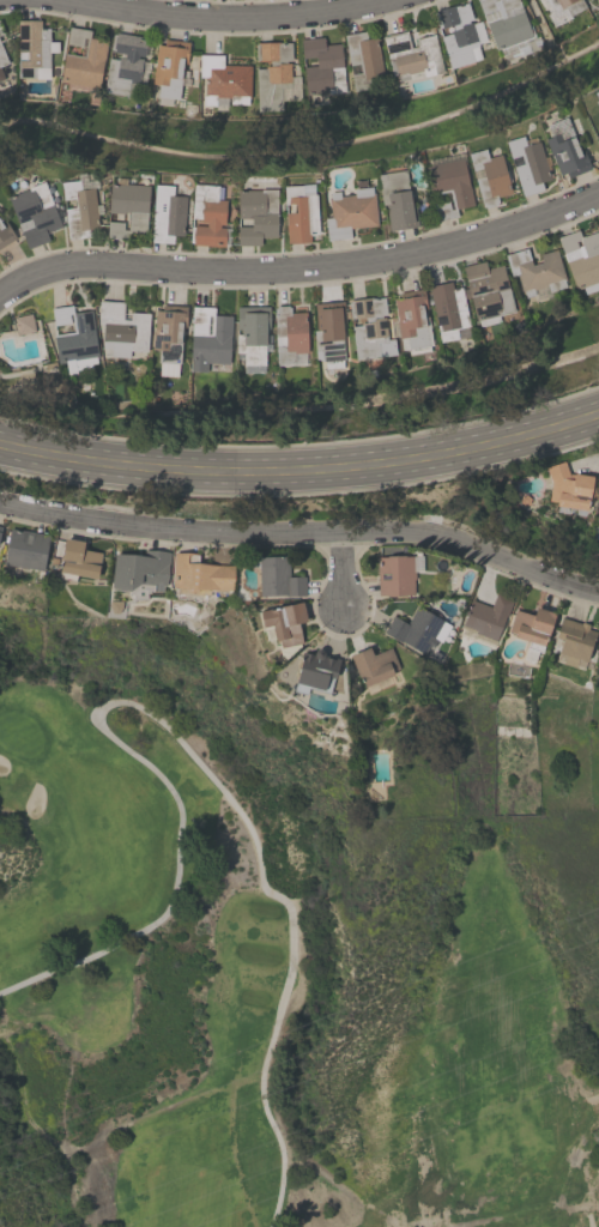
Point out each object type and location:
building: (595, 1)
building: (559, 8)
road: (235, 22)
building: (504, 22)
building: (458, 34)
building: (34, 49)
building: (411, 55)
building: (2, 58)
building: (362, 58)
building: (83, 59)
building: (123, 62)
building: (322, 66)
building: (169, 69)
building: (1, 74)
building: (274, 75)
building: (223, 79)
building: (597, 98)
building: (598, 117)
building: (564, 149)
building: (527, 163)
building: (489, 176)
building: (448, 186)
building: (395, 199)
building: (78, 208)
building: (127, 208)
building: (299, 212)
building: (349, 212)
building: (34, 213)
building: (167, 214)
building: (206, 214)
building: (256, 214)
building: (598, 217)
building: (598, 222)
building: (5, 232)
building: (582, 258)
building: (536, 270)
road: (301, 272)
building: (486, 291)
building: (448, 310)
building: (412, 319)
building: (24, 324)
building: (121, 328)
building: (369, 328)
building: (289, 332)
building: (328, 332)
building: (252, 333)
building: (168, 336)
building: (73, 338)
building: (208, 340)
road: (302, 470)
building: (568, 486)
building: (597, 512)
building: (0, 528)
road: (303, 530)
building: (25, 549)
building: (77, 560)
road: (338, 567)
building: (139, 570)
building: (397, 573)
building: (199, 575)
building: (278, 578)
building: (485, 616)
building: (283, 622)
building: (531, 627)
building: (417, 629)
building: (573, 640)
building: (373, 666)
building: (518, 670)
building: (315, 671)
road: (183, 745)
park: (267, 997)

